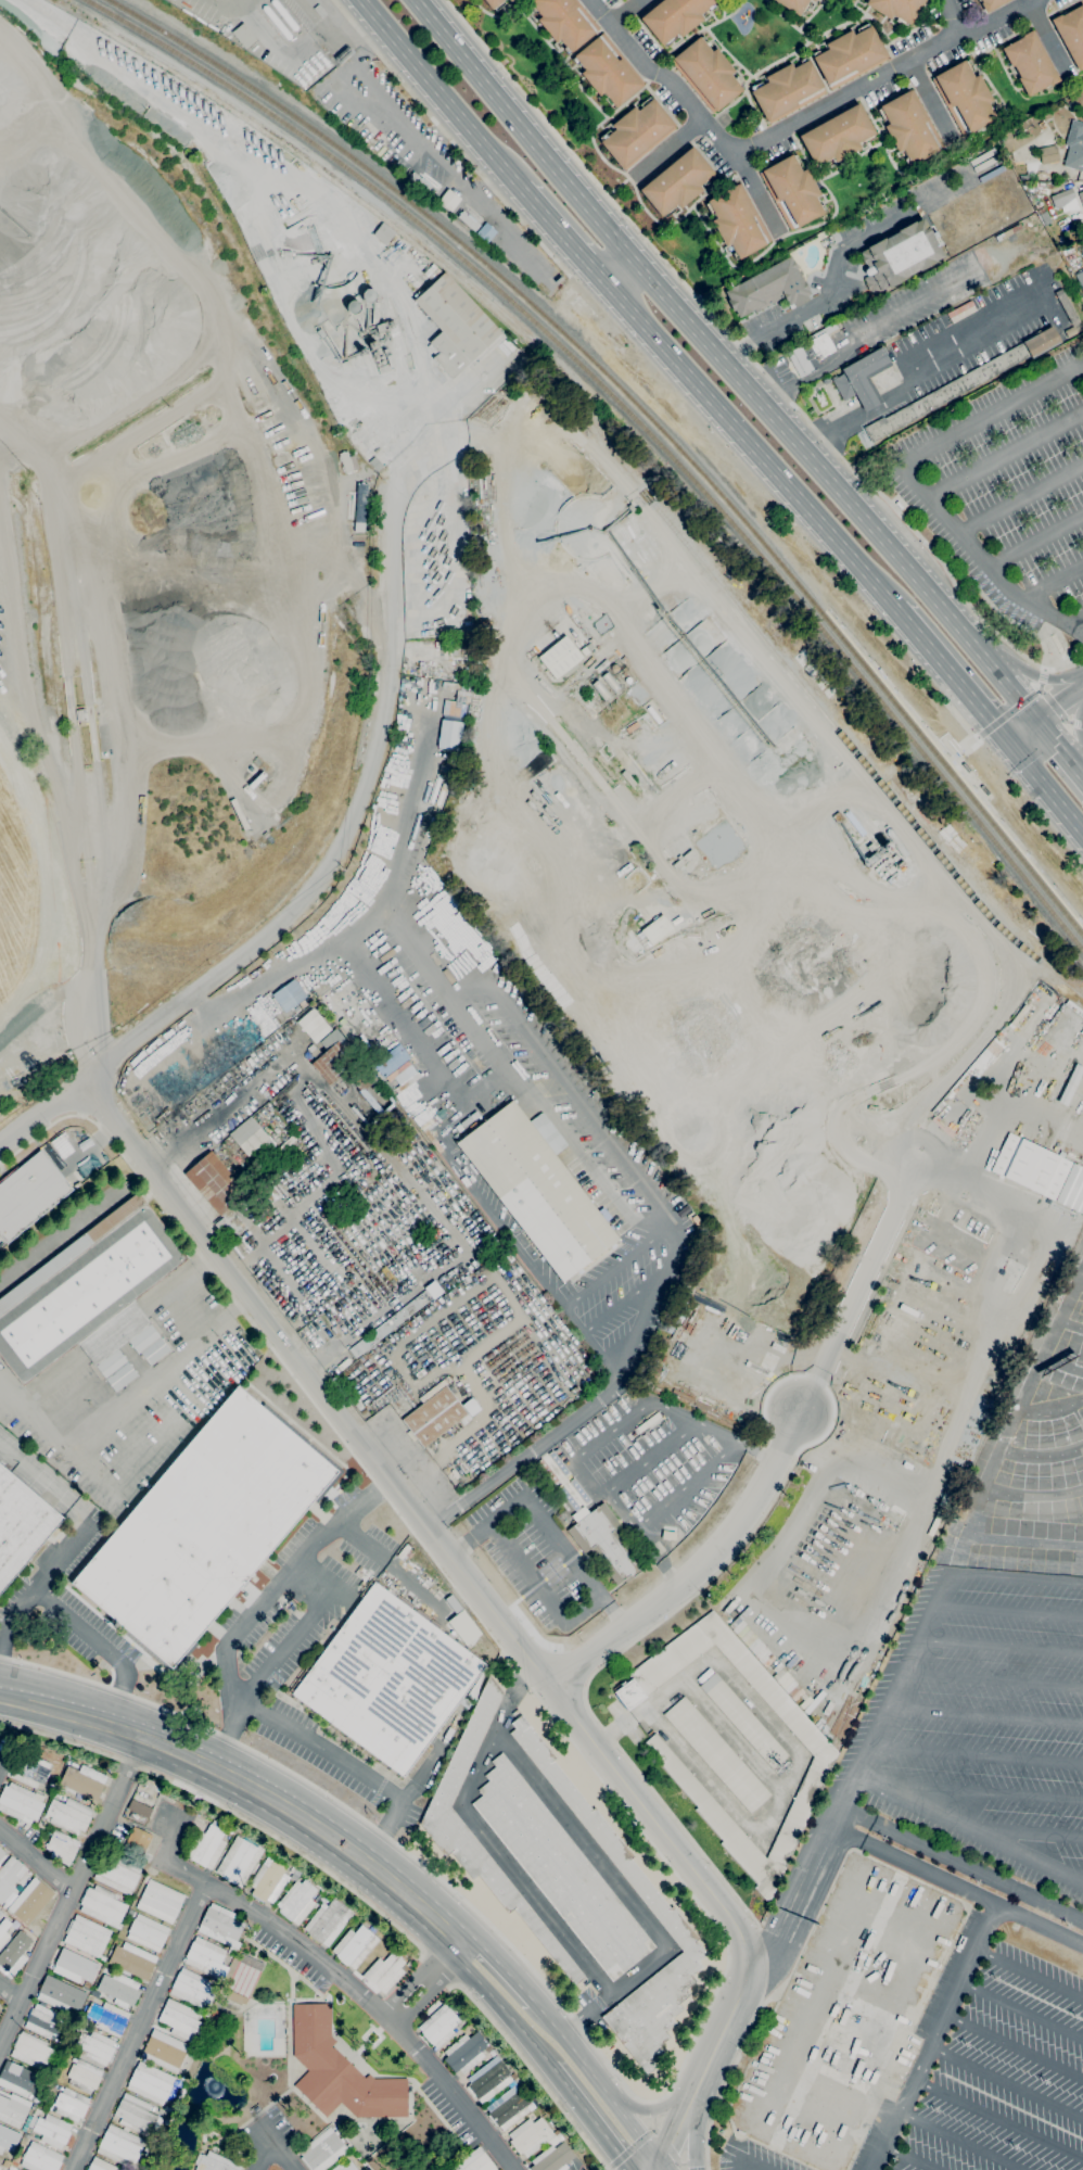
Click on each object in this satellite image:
building: (510, 0)
building: (813, 0)
building: (495, 3)
building: (992, 4)
building: (795, 5)
building: (896, 9)
building: (320, 11)
road: (621, 11)
road: (955, 15)
building: (675, 17)
building: (562, 22)
building: (1072, 33)
building: (244, 35)
road: (1050, 38)
road: (370, 45)
building: (849, 55)
building: (1031, 63)
building: (607, 73)
building: (708, 74)
building: (788, 90)
road: (444, 94)
building: (965, 97)
road: (933, 101)
road: (790, 125)
building: (167, 126)
building: (907, 127)
road: (412, 131)
building: (636, 131)
road: (386, 136)
building: (838, 136)
road: (449, 138)
building: (1023, 142)
road: (671, 149)
building: (1048, 154)
building: (1074, 157)
building: (1032, 174)
building: (677, 182)
road: (487, 183)
building: (422, 185)
road: (623, 188)
building: (792, 191)
road: (757, 192)
building: (1081, 196)
building: (1065, 200)
building: (1045, 217)
building: (469, 220)
building: (737, 220)
building: (484, 231)
building: (383, 232)
road: (501, 233)
road: (564, 236)
building: (1081, 242)
railway: (530, 246)
railway: (451, 251)
road: (841, 253)
building: (900, 255)
road: (617, 269)
building: (1080, 277)
building: (768, 289)
building: (1066, 306)
building: (961, 312)
building: (382, 327)
building: (457, 327)
building: (1070, 331)
road: (862, 332)
building: (372, 341)
building: (508, 344)
building: (813, 352)
road: (751, 357)
road: (724, 361)
road: (916, 371)
building: (862, 378)
building: (826, 380)
building: (965, 382)
road: (989, 413)
railway: (645, 415)
building: (585, 429)
road: (441, 435)
road: (751, 444)
road: (1005, 454)
building: (347, 461)
building: (375, 464)
road: (1021, 497)
parking lot: (1006, 500)
building: (632, 507)
railway: (675, 532)
road: (1037, 540)
road: (986, 560)
road: (1054, 581)
road: (413, 591)
road: (716, 604)
railway: (824, 611)
road: (1078, 623)
building: (461, 633)
railway: (502, 636)
building: (587, 648)
building: (560, 660)
road: (646, 662)
road: (952, 674)
road: (1037, 676)
road: (1041, 677)
road: (1058, 703)
road: (1058, 711)
road: (1007, 714)
building: (81, 716)
traffic signals: (1036, 721)
road: (1079, 725)
road: (968, 731)
road: (1022, 731)
building: (448, 734)
road: (943, 736)
traffic signals: (1009, 740)
road: (1059, 749)
railway: (925, 756)
road: (956, 759)
road: (951, 762)
road: (1046, 785)
road: (404, 818)
building: (683, 859)
road: (315, 889)
building: (657, 929)
building: (290, 995)
building: (315, 1025)
road: (989, 1028)
building: (386, 1054)
building: (333, 1056)
road: (934, 1058)
building: (399, 1074)
building: (362, 1081)
building: (411, 1086)
building: (1069, 1086)
road: (293, 1097)
road: (868, 1119)
building: (144, 1121)
building: (461, 1125)
road: (983, 1132)
building: (253, 1139)
building: (286, 1143)
road: (578, 1154)
building: (1031, 1166)
building: (215, 1182)
road: (968, 1185)
building: (538, 1188)
building: (1072, 1189)
building: (273, 1193)
building: (28, 1194)
building: (693, 1218)
building: (230, 1224)
road: (530, 1262)
road: (611, 1268)
road: (856, 1289)
building: (91, 1297)
road: (626, 1299)
road: (191, 1307)
building: (390, 1324)
road: (816, 1380)
road: (765, 1400)
building: (469, 1406)
road: (109, 1413)
building: (434, 1417)
road: (599, 1439)
road: (9, 1450)
road: (762, 1451)
road: (653, 1457)
road: (44, 1480)
road: (878, 1482)
road: (688, 1485)
road: (545, 1524)
building: (21, 1525)
building: (204, 1526)
road: (73, 1538)
road: (358, 1539)
building: (604, 1543)
road: (697, 1569)
road: (668, 1574)
road: (1018, 1575)
road: (281, 1577)
road: (536, 1591)
road: (16, 1608)
road: (492, 1610)
road: (1009, 1610)
road: (811, 1613)
building: (463, 1627)
road: (297, 1629)
road: (99, 1642)
road: (1001, 1648)
road: (623, 1650)
building: (760, 1651)
building: (388, 1679)
building: (783, 1679)
road: (993, 1683)
road: (55, 1696)
road: (985, 1717)
road: (69, 1721)
building: (743, 1721)
road: (107, 1723)
road: (319, 1746)
building: (717, 1754)
road: (977, 1754)
building: (824, 1760)
building: (30, 1769)
road: (856, 1775)
building: (84, 1780)
building: (52, 1784)
road: (982, 1792)
building: (55, 1793)
building: (20, 1803)
road: (303, 1803)
building: (141, 1809)
road: (229, 1811)
building: (69, 1815)
building: (18, 1822)
building: (41, 1826)
road: (970, 1827)
building: (229, 1830)
road: (1028, 1832)
building: (451, 1838)
road: (487, 1839)
building: (137, 1842)
building: (61, 1847)
building: (206, 1847)
building: (1, 1855)
road: (36, 1860)
building: (239, 1862)
road: (963, 1863)
building: (560, 1870)
building: (116, 1873)
building: (294, 1873)
road: (1074, 1874)
building: (10, 1875)
building: (145, 1878)
road: (367, 1878)
road: (679, 1878)
building: (268, 1882)
building: (638, 1882)
road: (957, 1886)
road: (74, 1887)
road: (626, 1893)
building: (317, 1898)
building: (30, 1901)
building: (161, 1901)
building: (297, 1901)
building: (102, 1906)
building: (130, 1913)
building: (328, 1922)
building: (221, 1927)
building: (3, 1930)
building: (148, 1932)
building: (375, 1932)
building: (87, 1936)
building: (355, 1946)
building: (231, 1951)
building: (14, 1954)
building: (101, 1957)
building: (206, 1957)
building: (132, 1960)
building: (252, 1962)
building: (409, 1964)
building: (75, 1966)
road: (502, 1968)
road: (438, 1969)
building: (384, 1972)
road: (1031, 1976)
road: (430, 1978)
road: (160, 1983)
building: (192, 1988)
building: (119, 1989)
road: (11, 1992)
building: (94, 1993)
building: (61, 1994)
building: (235, 1996)
road: (375, 2009)
building: (457, 2012)
road: (1022, 2014)
building: (107, 2018)
building: (180, 2019)
building: (42, 2021)
building: (439, 2026)
road: (937, 2038)
building: (63, 2042)
road: (1015, 2046)
building: (95, 2047)
building: (33, 2051)
building: (165, 2051)
building: (464, 2053)
parking lot: (986, 2067)
building: (340, 2070)
road: (532, 2072)
building: (84, 2076)
building: (20, 2079)
building: (515, 2079)
building: (488, 2080)
road: (598, 2081)
road: (1008, 2082)
building: (151, 2083)
road: (726, 2085)
building: (71, 2104)
road: (654, 2107)
building: (13, 2108)
building: (509, 2108)
building: (158, 2110)
building: (36, 2111)
building: (137, 2115)
building: (28, 2119)
road: (591, 2119)
road: (999, 2120)
road: (692, 2122)
building: (25, 2128)
building: (52, 2130)
building: (532, 2136)
building: (4, 2137)
road: (963, 2141)
building: (120, 2146)
building: (322, 2150)
road: (265, 2154)
road: (283, 2154)
building: (11, 2155)
parking lot: (751, 2157)
building: (40, 2158)
building: (552, 2158)
road: (907, 2159)
building: (475, 2161)
traffic signals: (659, 2161)
building: (216, 2162)
road: (752, 2163)
building: (101, 2165)
road: (661, 2166)
building: (0, 2167)
building: (345, 2167)
building: (12, 2168)
building: (17, 2169)

